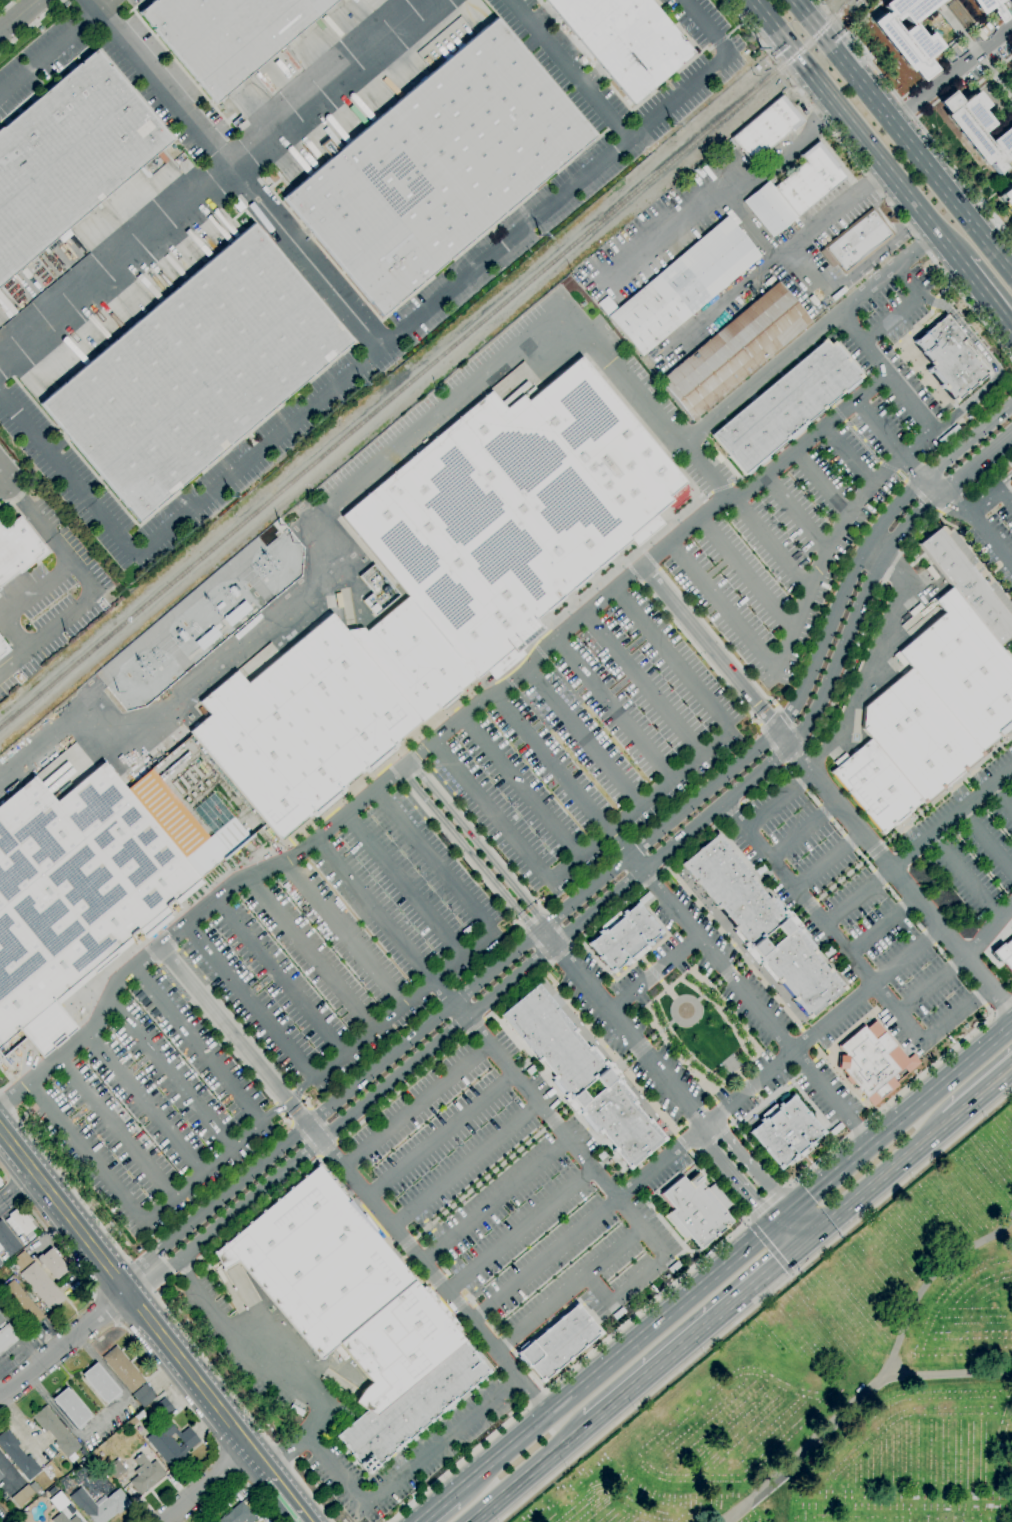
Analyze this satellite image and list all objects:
road: (7, 6)
road: (94, 6)
road: (828, 11)
building: (996, 11)
building: (958, 14)
road: (18, 15)
road: (30, 25)
road: (751, 32)
building: (227, 34)
building: (907, 35)
building: (624, 40)
road: (57, 47)
building: (756, 67)
road: (568, 69)
road: (950, 72)
building: (765, 129)
building: (978, 129)
road: (856, 131)
road: (924, 133)
road: (902, 136)
building: (68, 156)
building: (437, 167)
road: (213, 179)
road: (240, 180)
building: (794, 190)
road: (725, 195)
building: (1006, 201)
road: (894, 212)
building: (856, 241)
road: (774, 259)
road: (888, 273)
road: (820, 282)
building: (683, 286)
road: (986, 296)
building: (605, 305)
road: (908, 307)
road: (865, 343)
road: (379, 350)
building: (735, 350)
building: (951, 357)
road: (991, 364)
railway: (427, 367)
building: (195, 372)
road: (761, 378)
building: (786, 406)
road: (895, 452)
road: (847, 456)
road: (1009, 463)
road: (978, 466)
road: (1011, 467)
road: (707, 472)
road: (2, 477)
road: (1003, 480)
road: (822, 485)
road: (15, 491)
road: (993, 495)
road: (10, 501)
road: (332, 501)
road: (957, 502)
building: (512, 511)
road: (795, 514)
parking lot: (807, 526)
parking lot: (985, 528)
road: (991, 537)
road: (770, 545)
building: (17, 549)
road: (746, 576)
road: (815, 582)
building: (966, 586)
building: (376, 589)
road: (94, 596)
road: (20, 602)
building: (234, 614)
power substation: (202, 618)
building: (206, 639)
building: (3, 648)
road: (869, 656)
building: (411, 658)
road: (643, 685)
road: (805, 690)
road: (613, 710)
building: (930, 715)
building: (300, 726)
road: (437, 740)
road: (583, 740)
parking lot: (593, 746)
road: (412, 774)
road: (562, 774)
road: (522, 787)
road: (827, 791)
road: (1001, 798)
road: (779, 802)
road: (643, 806)
road: (803, 830)
road: (481, 840)
road: (986, 841)
road: (478, 845)
road: (918, 846)
parking lot: (969, 848)
road: (469, 852)
road: (462, 855)
road: (828, 860)
road: (436, 863)
road: (965, 875)
building: (87, 887)
road: (407, 887)
road: (799, 894)
parking lot: (867, 911)
road: (541, 912)
road: (790, 922)
road: (385, 923)
road: (881, 924)
road: (574, 926)
building: (761, 926)
road: (986, 930)
building: (1011, 933)
road: (346, 935)
building: (627, 937)
parking lot: (357, 940)
building: (1004, 953)
road: (313, 955)
road: (652, 973)
road: (652, 974)
road: (281, 979)
road: (931, 986)
road: (742, 992)
road: (671, 995)
road: (85, 1002)
road: (672, 1010)
road: (739, 1021)
road: (822, 1027)
road: (622, 1028)
road: (926, 1038)
road: (200, 1045)
road: (667, 1045)
road: (750, 1051)
road: (605, 1052)
road: (818, 1053)
road: (684, 1058)
road: (935, 1060)
building: (872, 1062)
road: (19, 1063)
road: (727, 1063)
road: (730, 1068)
road: (171, 1073)
road: (327, 1073)
building: (580, 1076)
road: (846, 1083)
road: (709, 1084)
road: (747, 1087)
road: (300, 1088)
road: (980, 1094)
road: (283, 1096)
road: (766, 1099)
road: (537, 1102)
road: (147, 1104)
road: (810, 1105)
road: (417, 1107)
road: (329, 1108)
road: (274, 1110)
road: (721, 1110)
parking lot: (155, 1112)
road: (693, 1115)
road: (901, 1118)
road: (117, 1128)
road: (540, 1131)
building: (785, 1132)
road: (866, 1134)
road: (442, 1138)
road: (712, 1139)
road: (681, 1144)
road: (86, 1153)
road: (826, 1154)
road: (761, 1157)
road: (694, 1158)
road: (749, 1165)
road: (466, 1166)
road: (701, 1167)
road: (203, 1173)
road: (3, 1176)
road: (732, 1178)
road: (879, 1178)
building: (0, 1183)
building: (0, 1184)
road: (16, 1190)
road: (14, 1191)
parking lot: (492, 1191)
road: (770, 1201)
road: (497, 1203)
road: (28, 1208)
building: (694, 1210)
traffic signals: (790, 1212)
road: (781, 1219)
building: (19, 1222)
road: (800, 1223)
road: (589, 1226)
traffic signals: (772, 1227)
road: (522, 1232)
traffic signals: (811, 1235)
road: (782, 1239)
building: (7, 1241)
road: (802, 1243)
road: (769, 1248)
traffic signals: (793, 1251)
road: (66, 1254)
building: (3, 1258)
building: (20, 1261)
building: (314, 1261)
building: (0, 1263)
building: (52, 1264)
road: (652, 1270)
road: (930, 1274)
building: (41, 1287)
road: (94, 1292)
road: (570, 1292)
road: (132, 1301)
building: (19, 1305)
road: (755, 1306)
road: (104, 1307)
road: (167, 1309)
building: (1, 1319)
road: (114, 1323)
road: (120, 1326)
road: (477, 1329)
road: (691, 1336)
building: (6, 1337)
building: (559, 1341)
road: (63, 1343)
road: (138, 1344)
building: (396, 1344)
road: (611, 1361)
road: (153, 1364)
building: (123, 1369)
road: (271, 1370)
road: (567, 1370)
park: (843, 1380)
building: (100, 1384)
building: (143, 1395)
building: (163, 1407)
building: (411, 1407)
road: (860, 1407)
building: (71, 1408)
building: (132, 1421)
building: (56, 1433)
building: (171, 1443)
building: (82, 1452)
building: (17, 1456)
building: (115, 1469)
road: (405, 1469)
road: (529, 1472)
building: (145, 1474)
building: (0, 1475)
building: (0, 1477)
road: (205, 1486)
building: (35, 1488)
building: (22, 1496)
road: (284, 1496)
building: (57, 1501)
building: (99, 1504)
road: (778, 1506)
road: (434, 1508)
building: (237, 1514)
building: (63, 1518)

